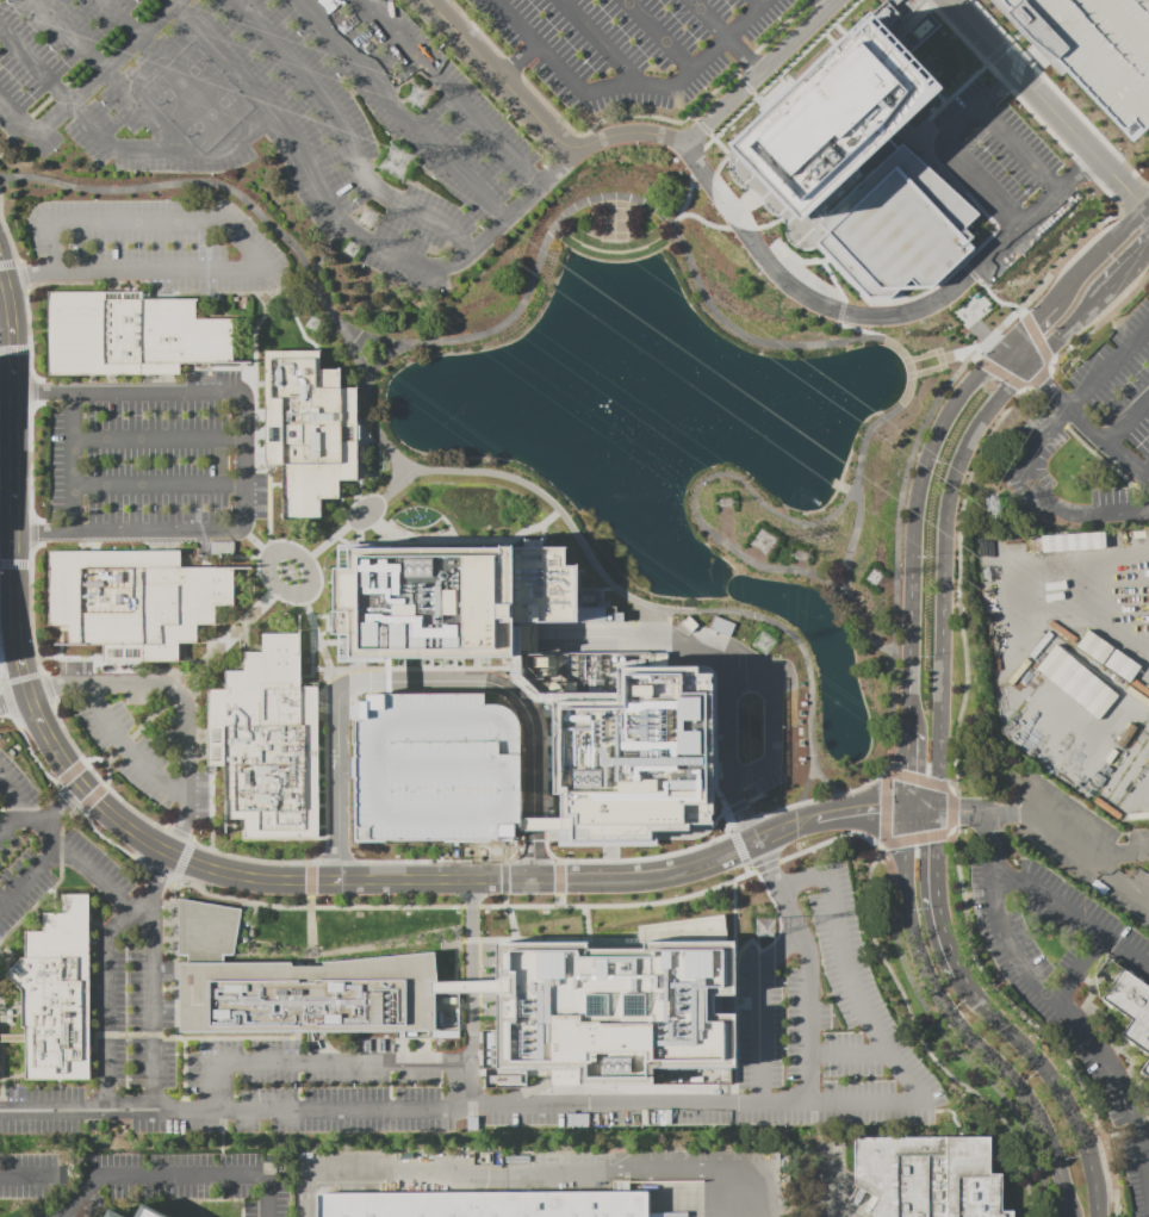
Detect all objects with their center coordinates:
road: (828, 4)
road: (474, 29)
road: (132, 31)
road: (958, 37)
road: (808, 39)
road: (675, 45)
building: (1094, 48)
parking garage: (1094, 48)
road: (620, 58)
road: (1002, 60)
road: (110, 68)
road: (511, 68)
road: (754, 68)
road: (765, 70)
road: (75, 74)
road: (507, 74)
road: (478, 81)
road: (1004, 83)
road: (452, 92)
road: (1057, 93)
power tower: (416, 95)
road: (1048, 105)
road: (404, 107)
road: (18, 113)
parking lot: (284, 117)
road: (676, 120)
road: (542, 123)
road: (1041, 124)
road: (242, 130)
road: (347, 136)
road: (169, 145)
road: (1019, 149)
building: (855, 154)
road: (309, 157)
power tower: (396, 162)
road: (1080, 166)
road: (209, 184)
road: (981, 185)
road: (1103, 190)
road: (518, 203)
road: (1148, 209)
road: (1148, 210)
power tower: (365, 217)
road: (676, 230)
road: (8, 241)
road: (237, 243)
parking lot: (151, 246)
power tower: (349, 249)
road: (1101, 253)
road: (1129, 272)
road: (20, 277)
road: (31, 277)
road: (1046, 277)
road: (186, 293)
road: (831, 303)
road: (5, 306)
road: (27, 319)
road: (1103, 319)
road: (1032, 322)
power tower: (311, 323)
road: (1069, 330)
building: (132, 335)
road: (1036, 335)
road: (15, 358)
road: (1019, 358)
road: (379, 359)
road: (995, 370)
road: (1108, 370)
road: (254, 375)
road: (1038, 377)
road: (32, 390)
road: (1049, 390)
road: (43, 391)
road: (1043, 404)
road: (371, 417)
road: (1126, 418)
road: (880, 420)
building: (308, 430)
road: (1042, 436)
road: (155, 439)
road: (1111, 446)
park: (886, 447)
parking lot: (151, 460)
road: (402, 460)
road: (29, 461)
road: (1148, 474)
road: (15, 479)
road: (155, 484)
power tower: (989, 504)
road: (1074, 514)
road: (349, 522)
road: (813, 522)
road: (915, 524)
road: (236, 532)
road: (42, 533)
road: (31, 534)
power tower: (762, 540)
building: (1070, 541)
road: (251, 542)
road: (895, 549)
road: (226, 554)
power tower: (799, 555)
road: (17, 560)
road: (808, 573)
power tower: (872, 576)
road: (944, 578)
road: (957, 579)
road: (271, 582)
building: (451, 600)
building: (131, 601)
road: (29, 604)
road: (665, 608)
road: (313, 631)
power tower: (762, 642)
building: (1093, 647)
road: (311, 656)
building: (1119, 666)
road: (38, 668)
road: (408, 668)
road: (157, 670)
road: (190, 675)
road: (424, 682)
building: (1075, 682)
road: (45, 689)
road: (15, 698)
road: (180, 698)
road: (8, 704)
parking lot: (738, 708)
road: (409, 718)
road: (770, 721)
building: (265, 741)
road: (54, 744)
building: (623, 745)
road: (125, 749)
road: (35, 760)
road: (104, 763)
road: (726, 763)
building: (431, 768)
parking garage: (431, 768)
road: (903, 771)
road: (69, 772)
road: (95, 775)
road: (91, 796)
road: (69, 801)
road: (809, 801)
road: (64, 807)
road: (209, 807)
road: (857, 813)
road: (917, 813)
road: (520, 814)
road: (957, 814)
road: (1010, 814)
road: (11, 818)
road: (123, 822)
road: (744, 822)
road: (225, 825)
road: (784, 830)
road: (178, 836)
road: (324, 836)
road: (103, 838)
road: (938, 843)
road: (987, 844)
road: (61, 846)
parking lot: (43, 850)
road: (1120, 852)
road: (181, 855)
road: (1093, 855)
road: (336, 857)
road: (652, 857)
road: (434, 862)
road: (162, 870)
road: (30, 876)
road: (250, 877)
road: (549, 878)
road: (503, 881)
road: (557, 881)
road: (308, 882)
road: (780, 887)
road: (732, 892)
road: (933, 895)
road: (619, 905)
road: (308, 907)
road: (470, 907)
road: (1073, 915)
road: (777, 926)
power tower: (763, 927)
road: (1079, 969)
road: (153, 977)
road: (850, 979)
building: (299, 987)
road: (914, 989)
building: (54, 993)
road: (106, 995)
road: (468, 996)
building: (614, 1008)
building: (1130, 1010)
road: (758, 1011)
road: (1068, 1011)
road: (806, 1017)
parking lot: (133, 1018)
parking lot: (824, 1020)
road: (957, 1026)
road: (1033, 1026)
building: (486, 1049)
road: (843, 1051)
road: (305, 1061)
road: (1052, 1080)
parking lot: (420, 1095)
road: (459, 1105)
parking lot: (42, 1110)
parking lot: (30, 1174)
road: (539, 1174)
road: (25, 1175)
building: (926, 1175)
road: (173, 1178)
parking lot: (176, 1181)
road: (833, 1194)
building: (485, 1203)
building: (145, 1212)
parking lot: (36, 1213)
building: (110, 1213)

